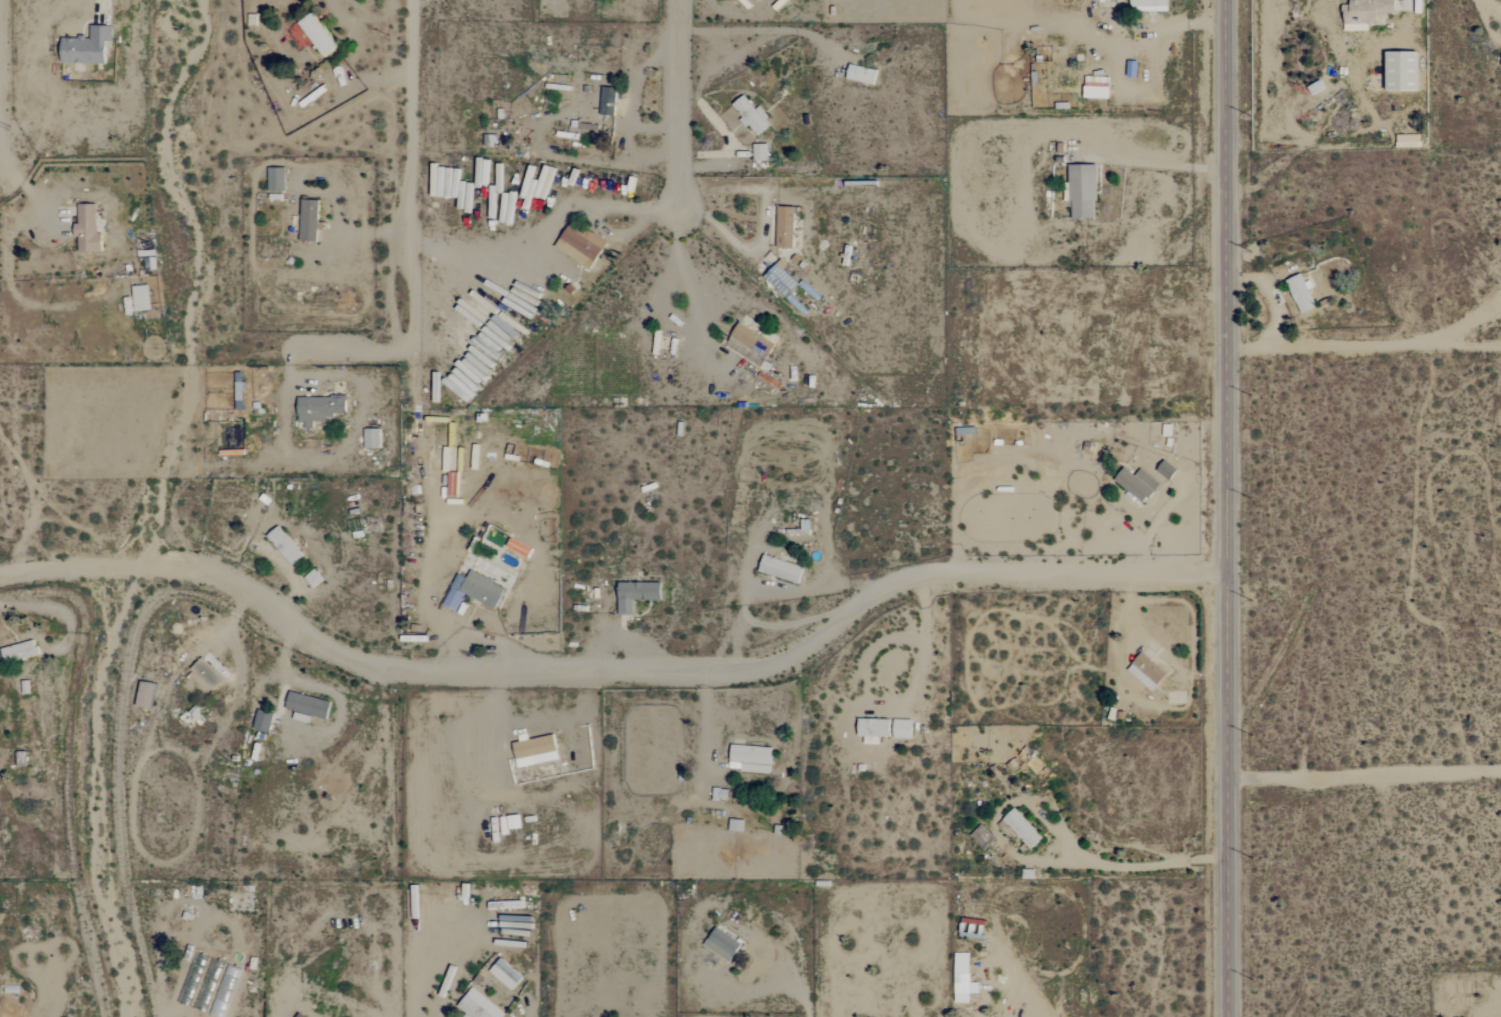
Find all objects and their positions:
building: (1116, 0)
building: (1150, 5)
road: (1494, 5)
road: (105, 9)
building: (1367, 13)
road: (1488, 22)
road: (1163, 26)
building: (317, 35)
building: (87, 47)
building: (1404, 72)
building: (862, 74)
building: (1098, 88)
building: (608, 101)
road: (674, 101)
building: (752, 116)
building: (1409, 141)
building: (761, 152)
road: (1158, 164)
road: (15, 174)
road: (408, 175)
building: (276, 179)
building: (1083, 192)
road: (601, 209)
building: (309, 221)
road: (759, 223)
road: (347, 227)
building: (87, 228)
building: (786, 228)
building: (580, 247)
building: (149, 260)
road: (680, 264)
building: (782, 280)
building: (1302, 294)
building: (141, 298)
road: (1270, 298)
building: (752, 340)
road: (1361, 344)
road: (342, 351)
building: (319, 408)
building: (372, 438)
road: (337, 456)
building: (1167, 470)
building: (1137, 483)
road: (1231, 508)
road: (1166, 509)
building: (285, 545)
building: (781, 569)
road: (428, 588)
building: (474, 591)
building: (637, 595)
road: (744, 596)
road: (56, 610)
road: (796, 621)
road: (732, 642)
building: (19, 651)
building: (1147, 671)
building: (207, 673)
road: (614, 673)
building: (146, 694)
building: (308, 705)
building: (263, 721)
road: (706, 723)
building: (872, 728)
building: (903, 729)
building: (535, 751)
building: (751, 757)
building: (22, 759)
road: (1365, 774)
building: (1023, 828)
building: (982, 837)
road: (1137, 867)
building: (722, 944)
road: (439, 964)
building: (506, 974)
building: (962, 977)
road: (1024, 986)
road: (797, 994)
building: (479, 1006)

